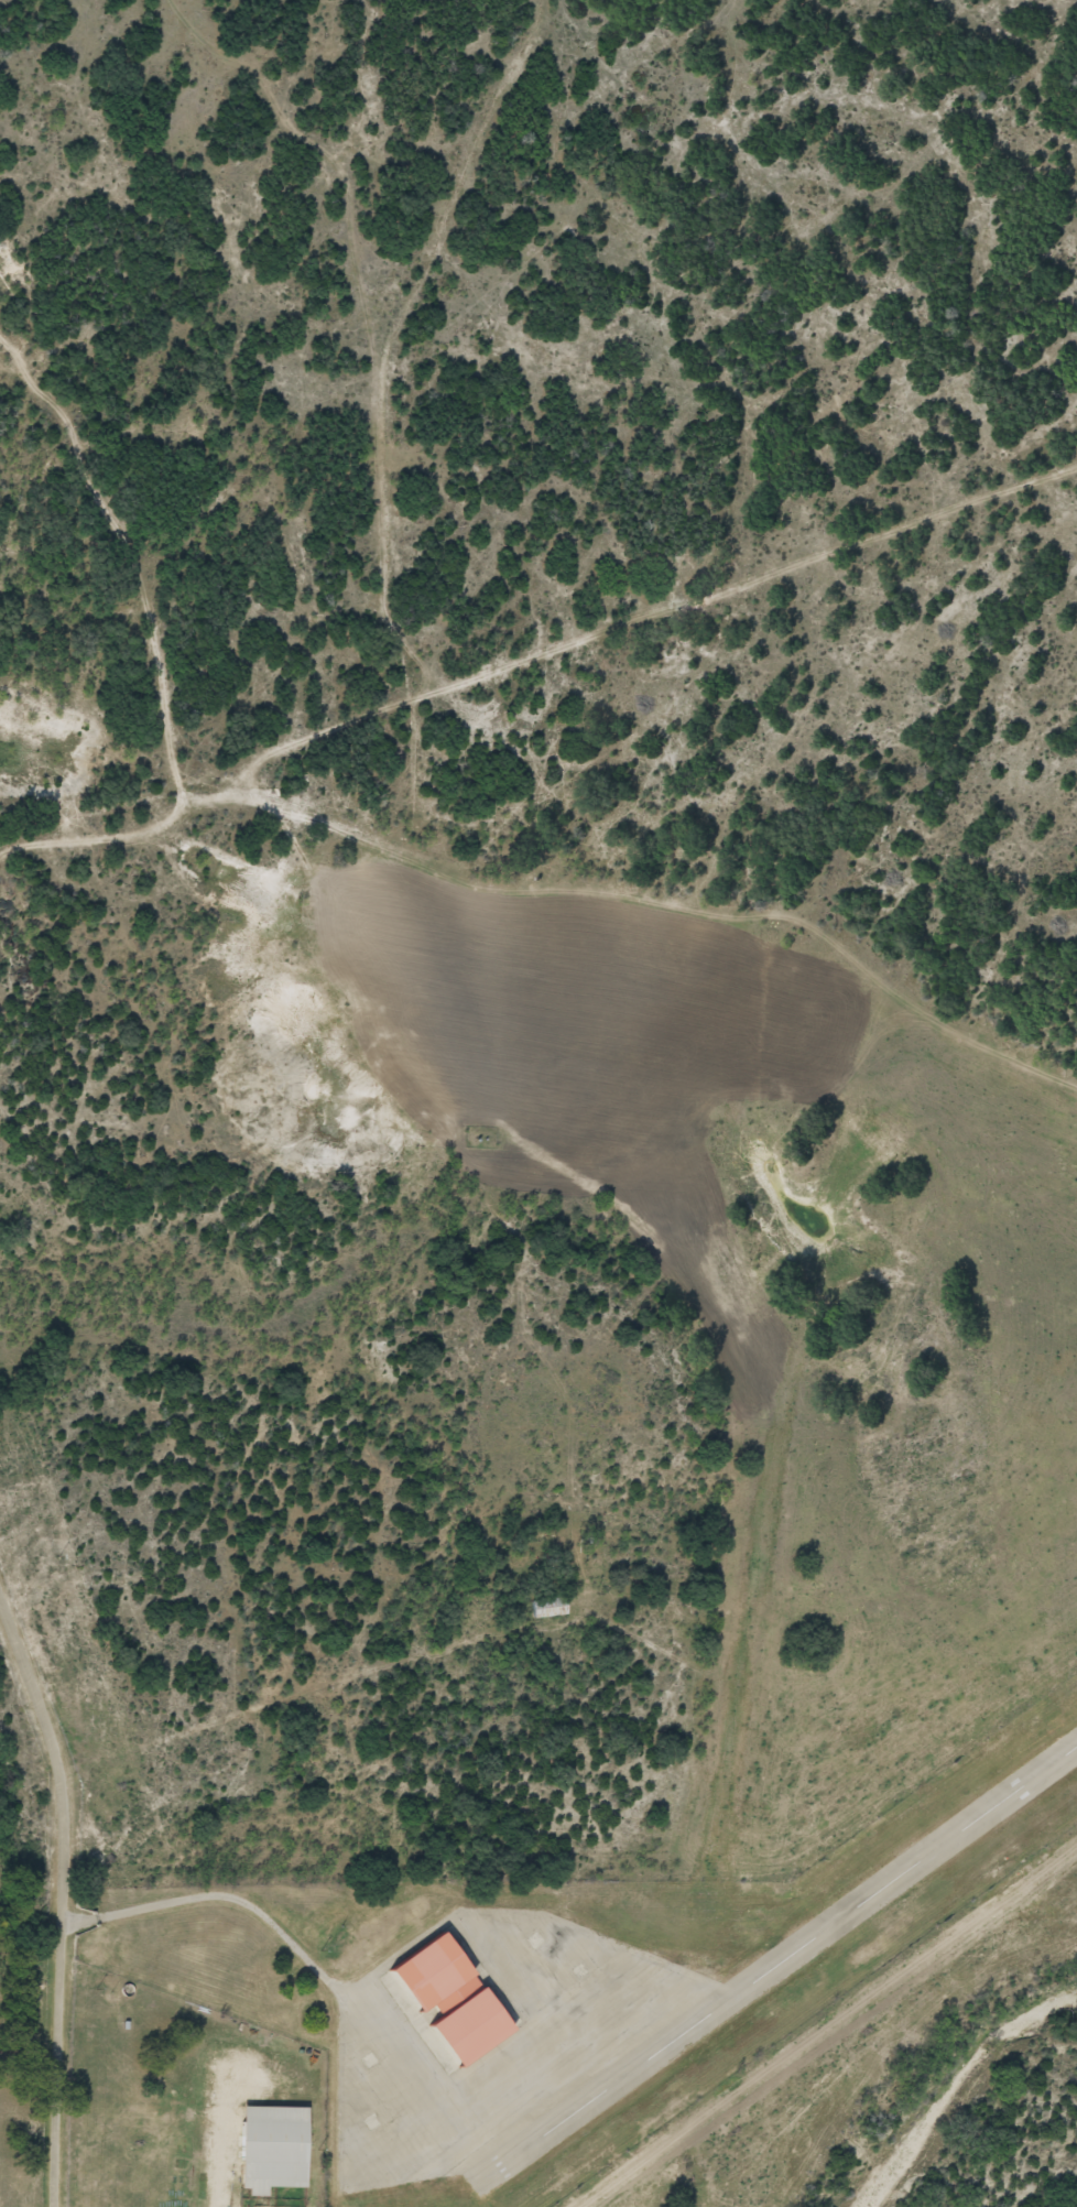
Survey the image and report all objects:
road: (300, 1812)
railway: (56, 1815)
road: (66, 1892)
road: (174, 1918)
airport runway: (793, 1963)
helipad: (589, 1970)
airport hangar: (442, 1972)
building: (442, 1972)
airport hangar: (481, 2027)
building: (481, 2027)
airport hangar: (279, 2150)
building: (279, 2150)

